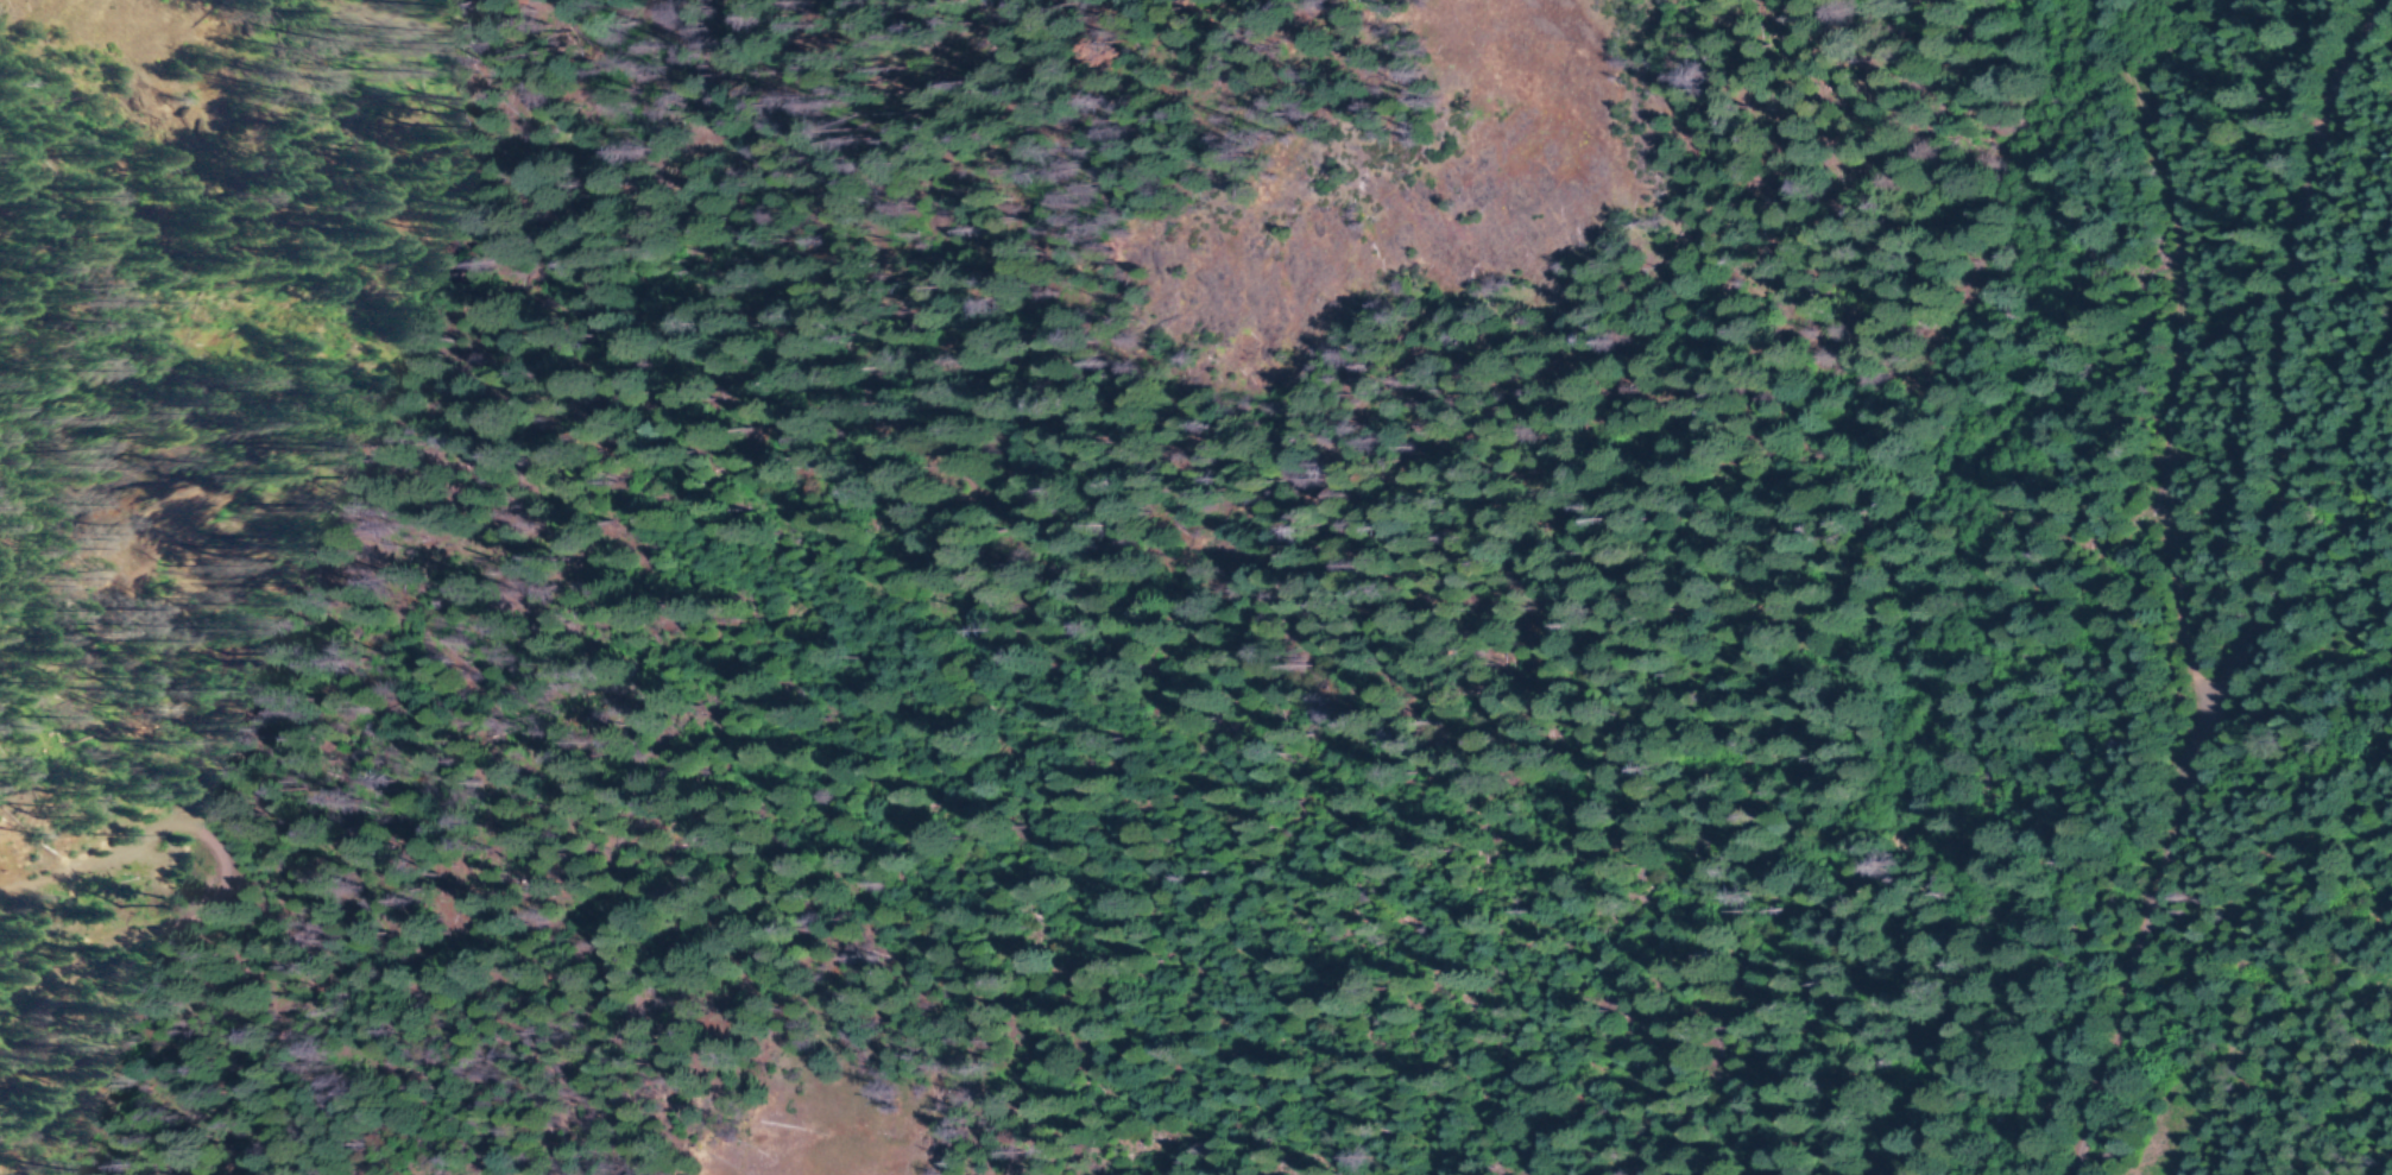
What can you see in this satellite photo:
road: (2175, 360)
road: (2252, 588)
road: (46, 773)
parking lot: (157, 860)
road: (231, 871)

